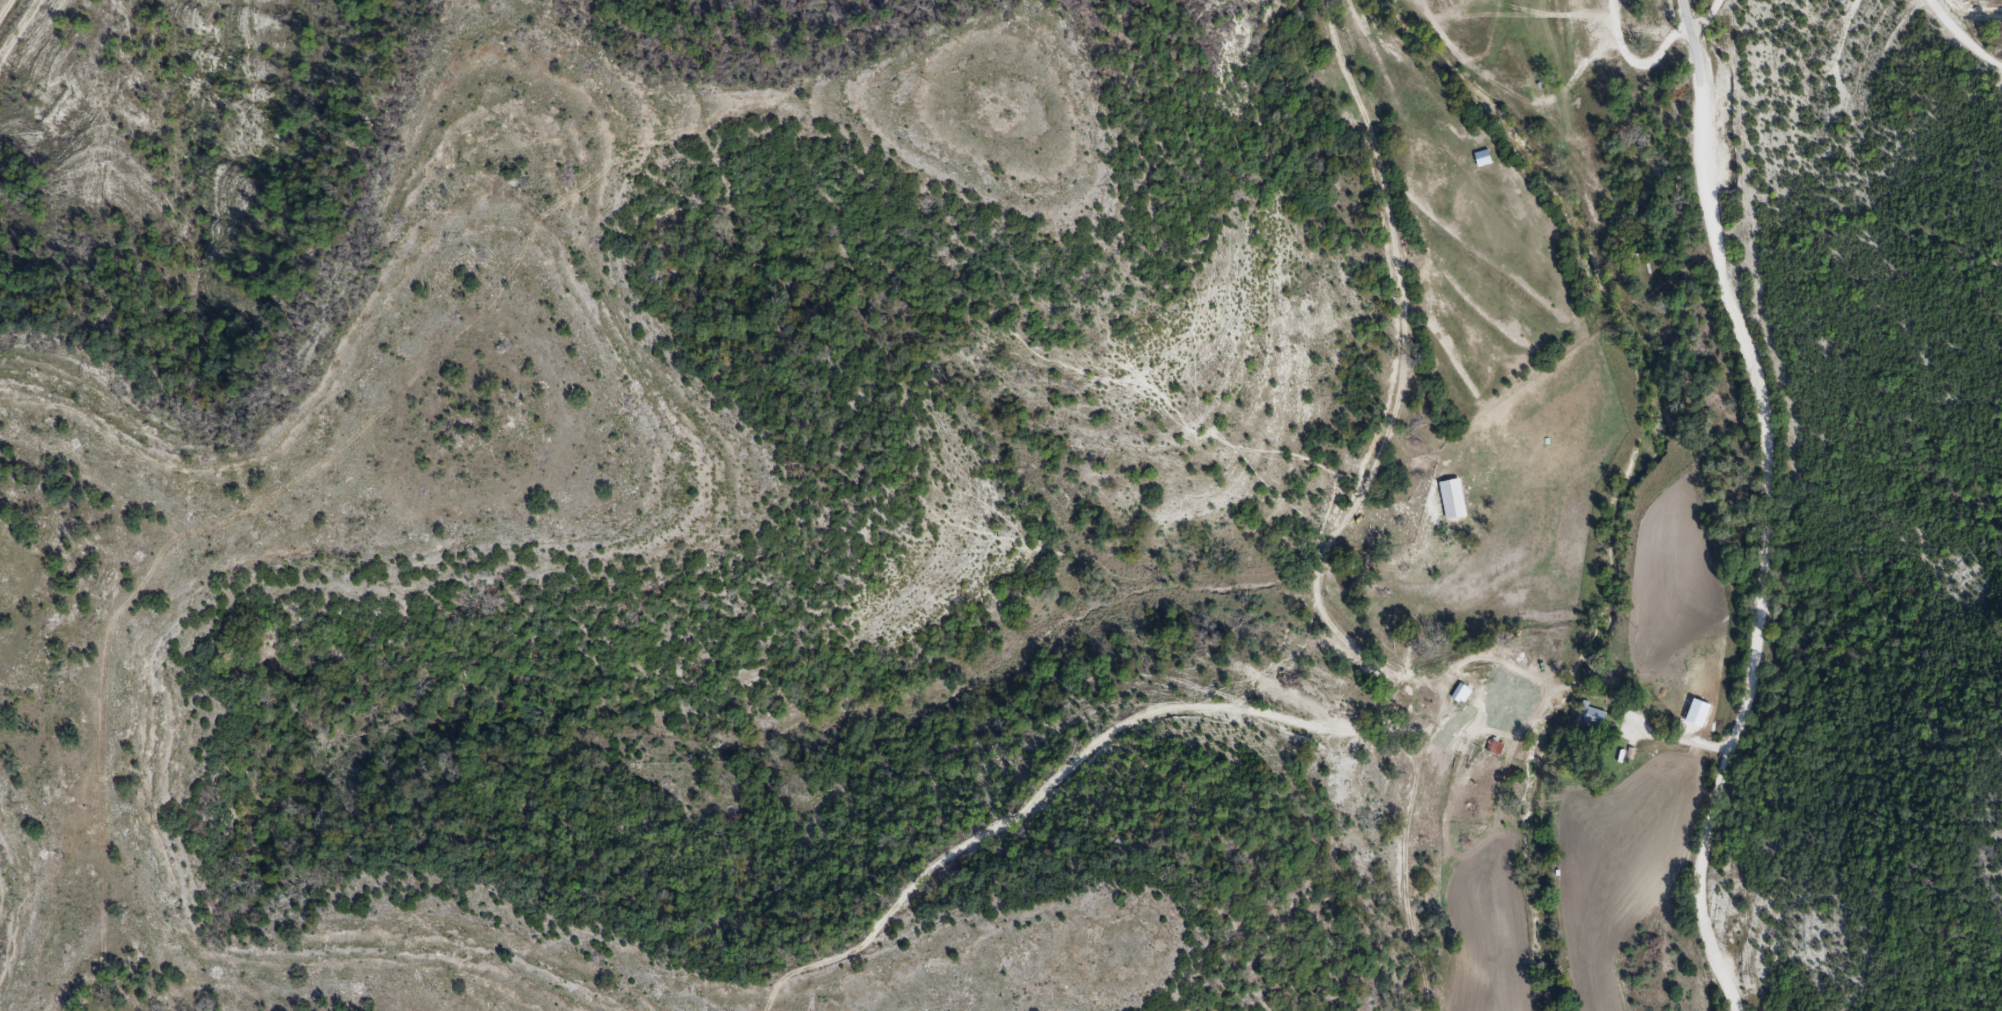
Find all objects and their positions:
road: (1706, 12)
road: (1640, 59)
building: (1452, 500)
road: (1723, 507)
building: (1462, 694)
building: (1594, 718)

